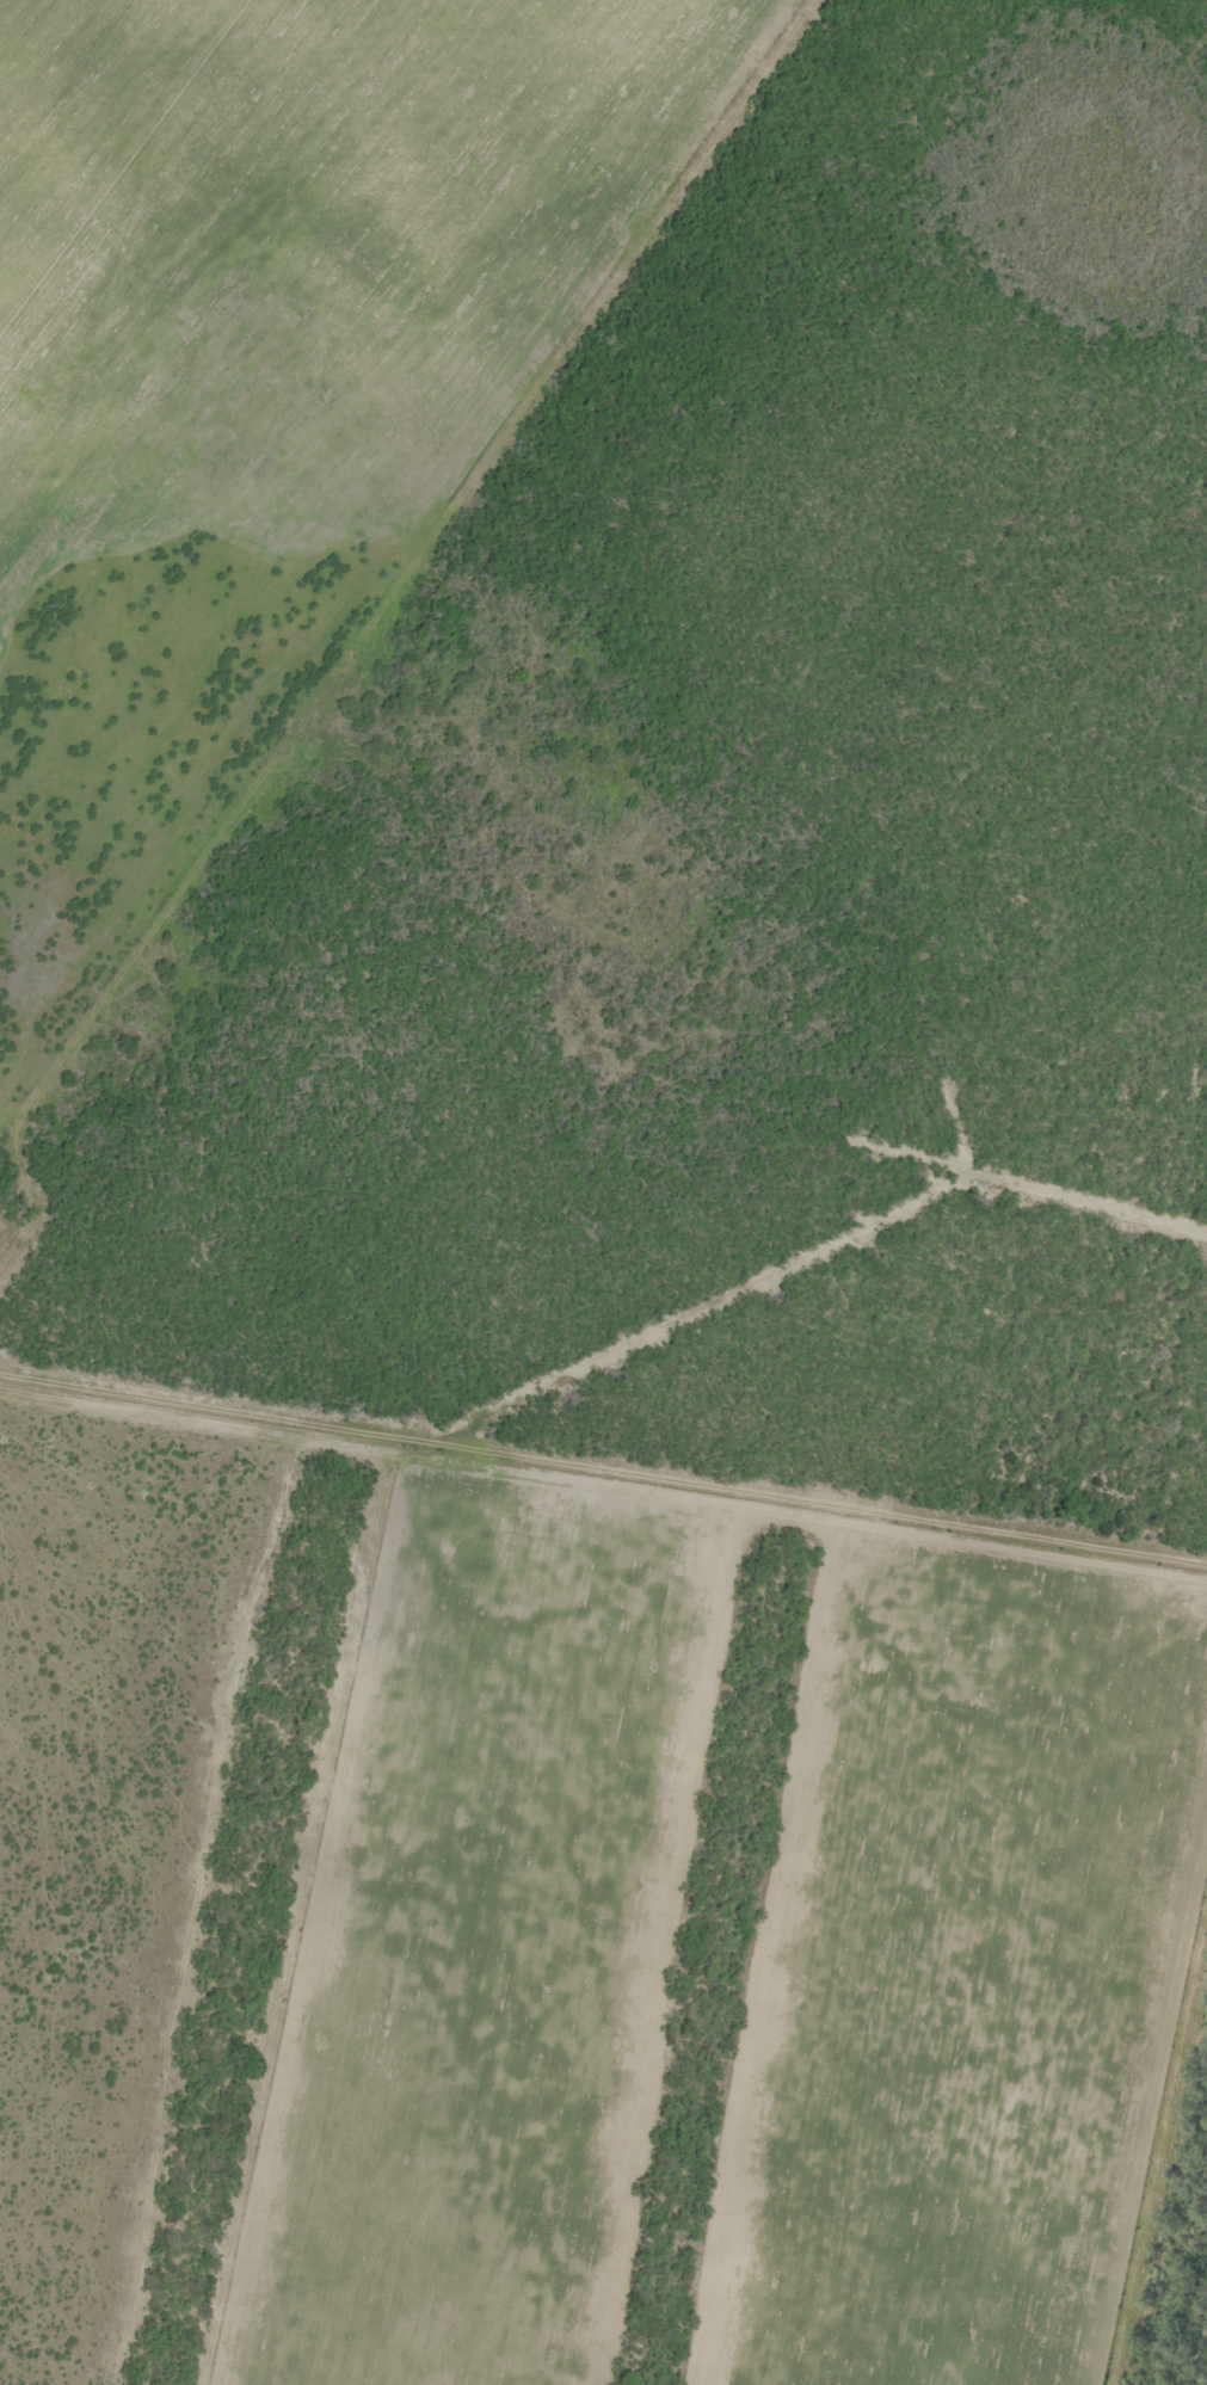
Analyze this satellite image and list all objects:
road: (499, 662)
road: (603, 1460)

